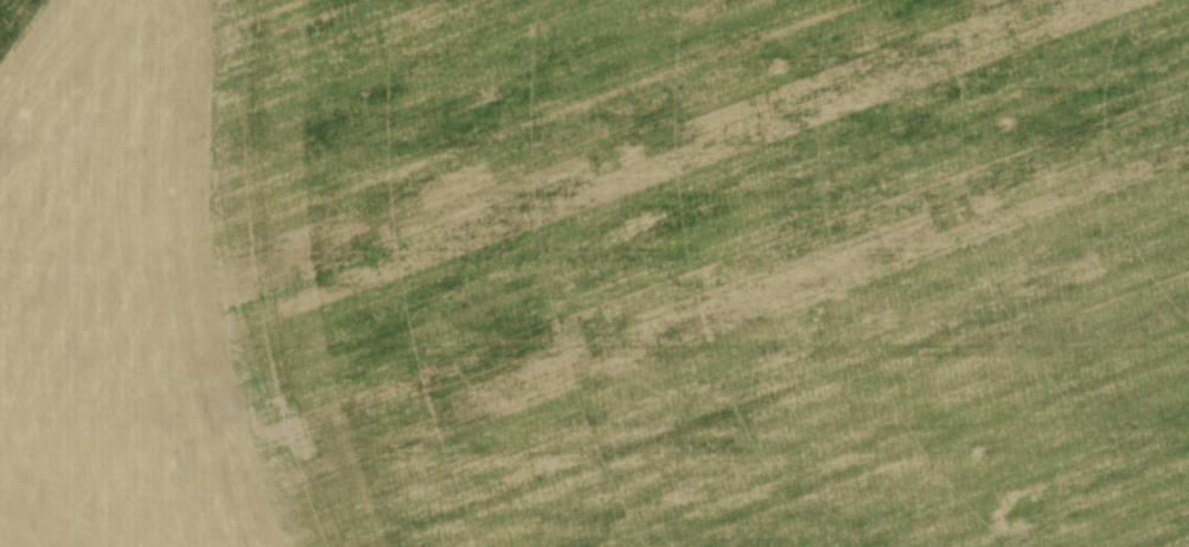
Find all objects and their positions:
crop: (594, 273)

